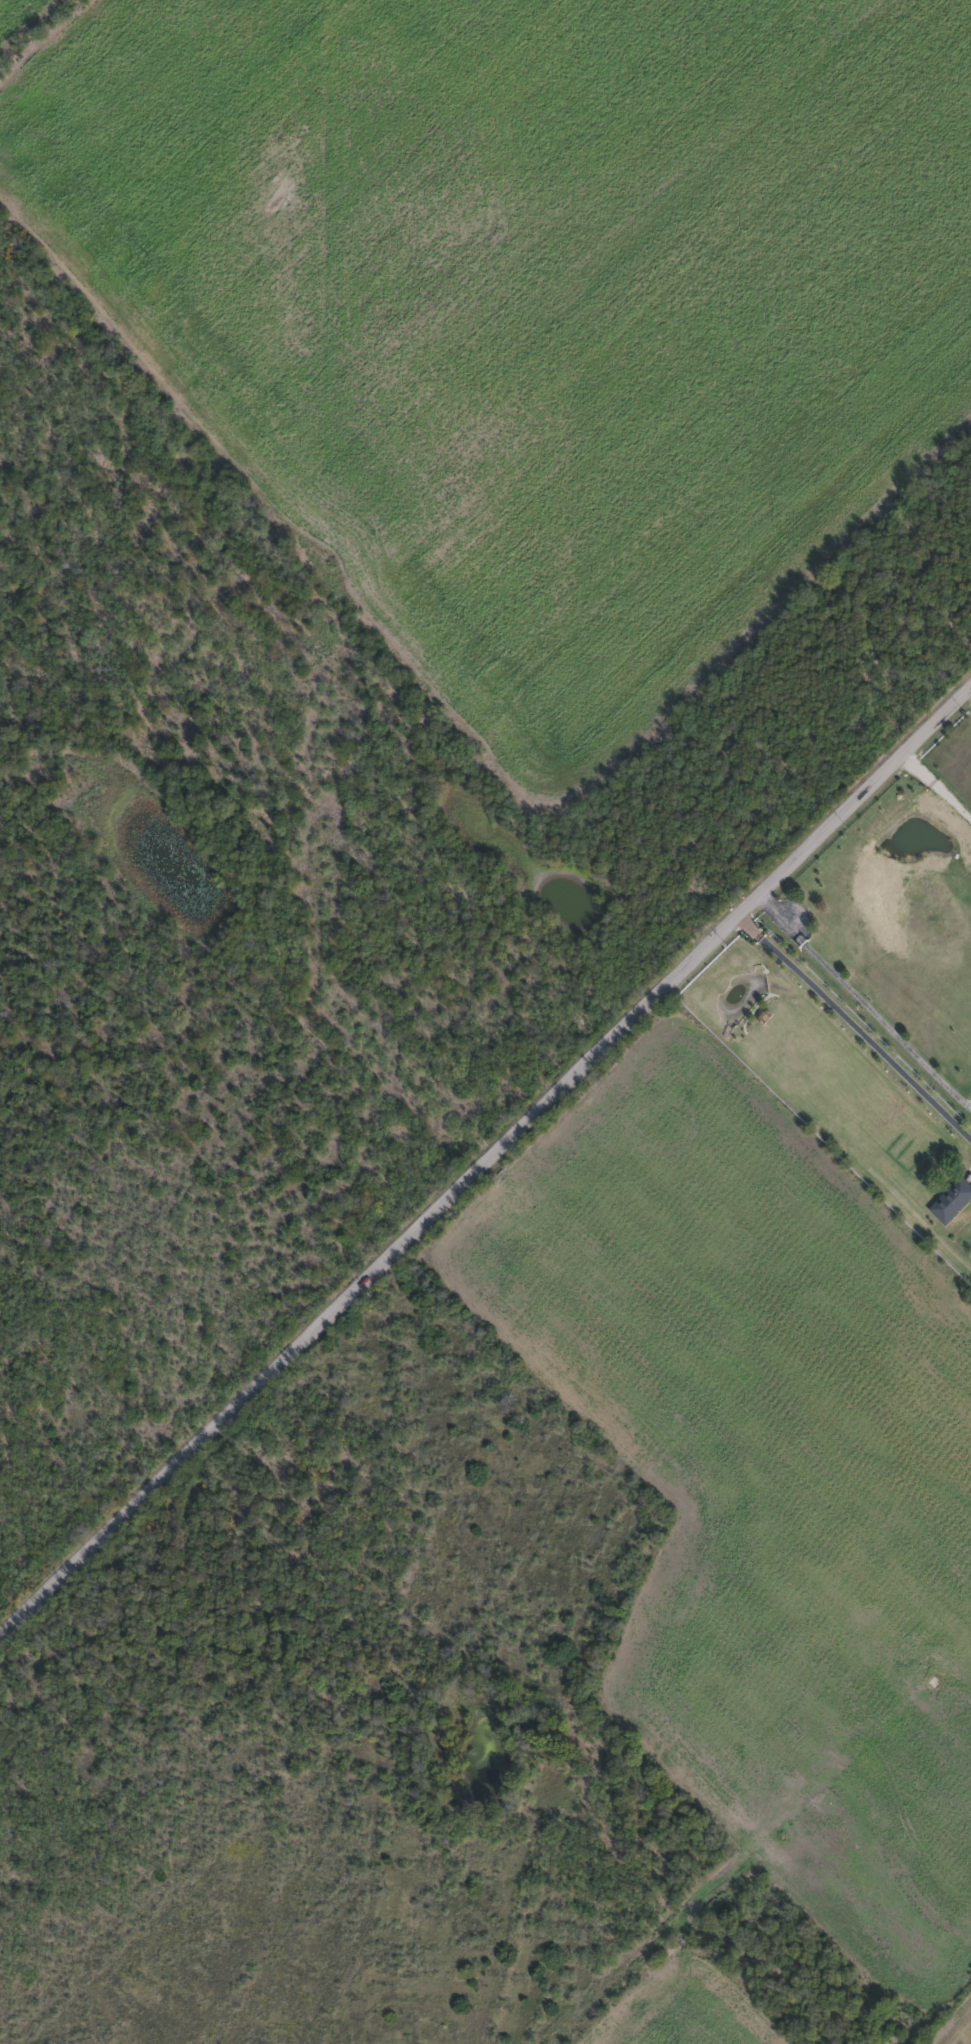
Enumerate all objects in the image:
road: (967, 698)
road: (938, 783)
building: (928, 920)
road: (866, 995)
road: (855, 1028)
road: (485, 1164)
building: (951, 1200)

